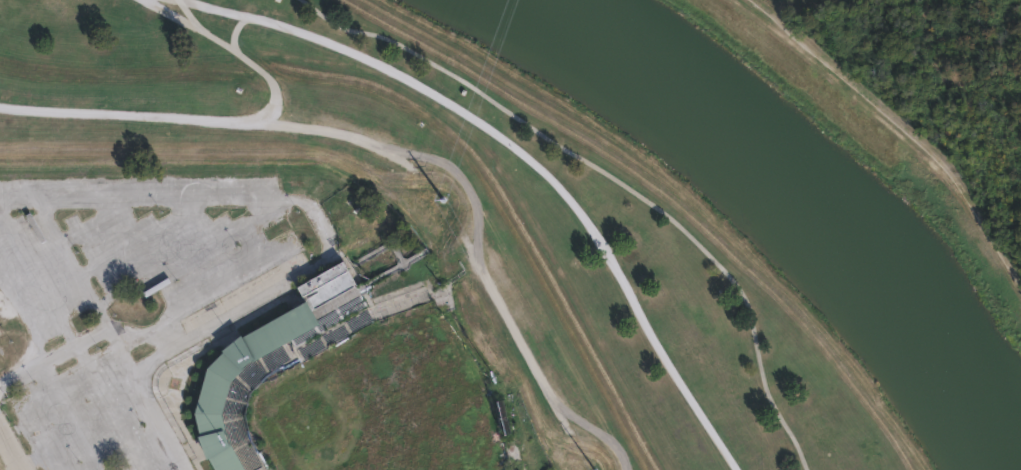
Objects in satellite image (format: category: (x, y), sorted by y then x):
road: (182, 10)
road: (229, 112)
road: (890, 136)
road: (532, 157)
road: (620, 178)
river: (796, 197)
park: (620, 199)
parking lot: (131, 251)
road: (59, 356)
park: (357, 376)
building: (355, 380)
stadium: (358, 382)
parking lot: (87, 423)
road: (12, 448)
power tower: (871, 451)

